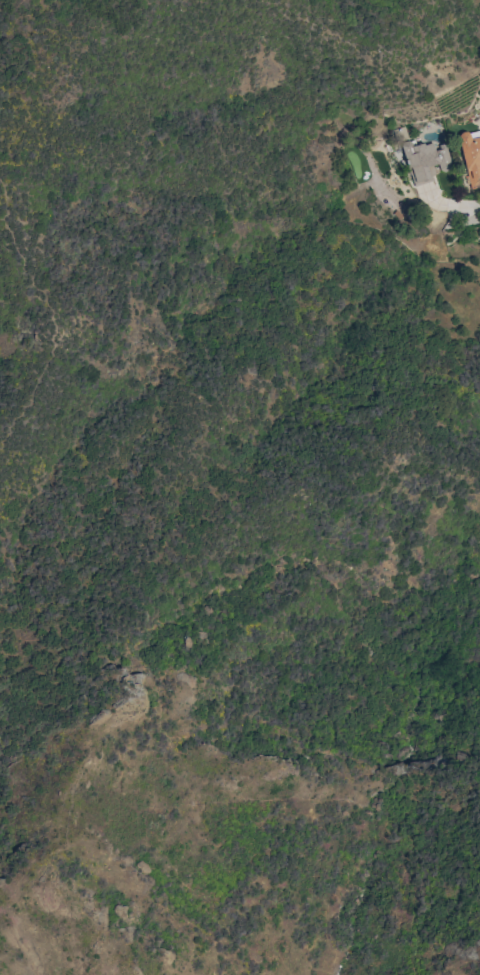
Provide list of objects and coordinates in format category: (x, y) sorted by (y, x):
building: (471, 156)
building: (425, 160)
road: (473, 210)
building: (398, 214)

